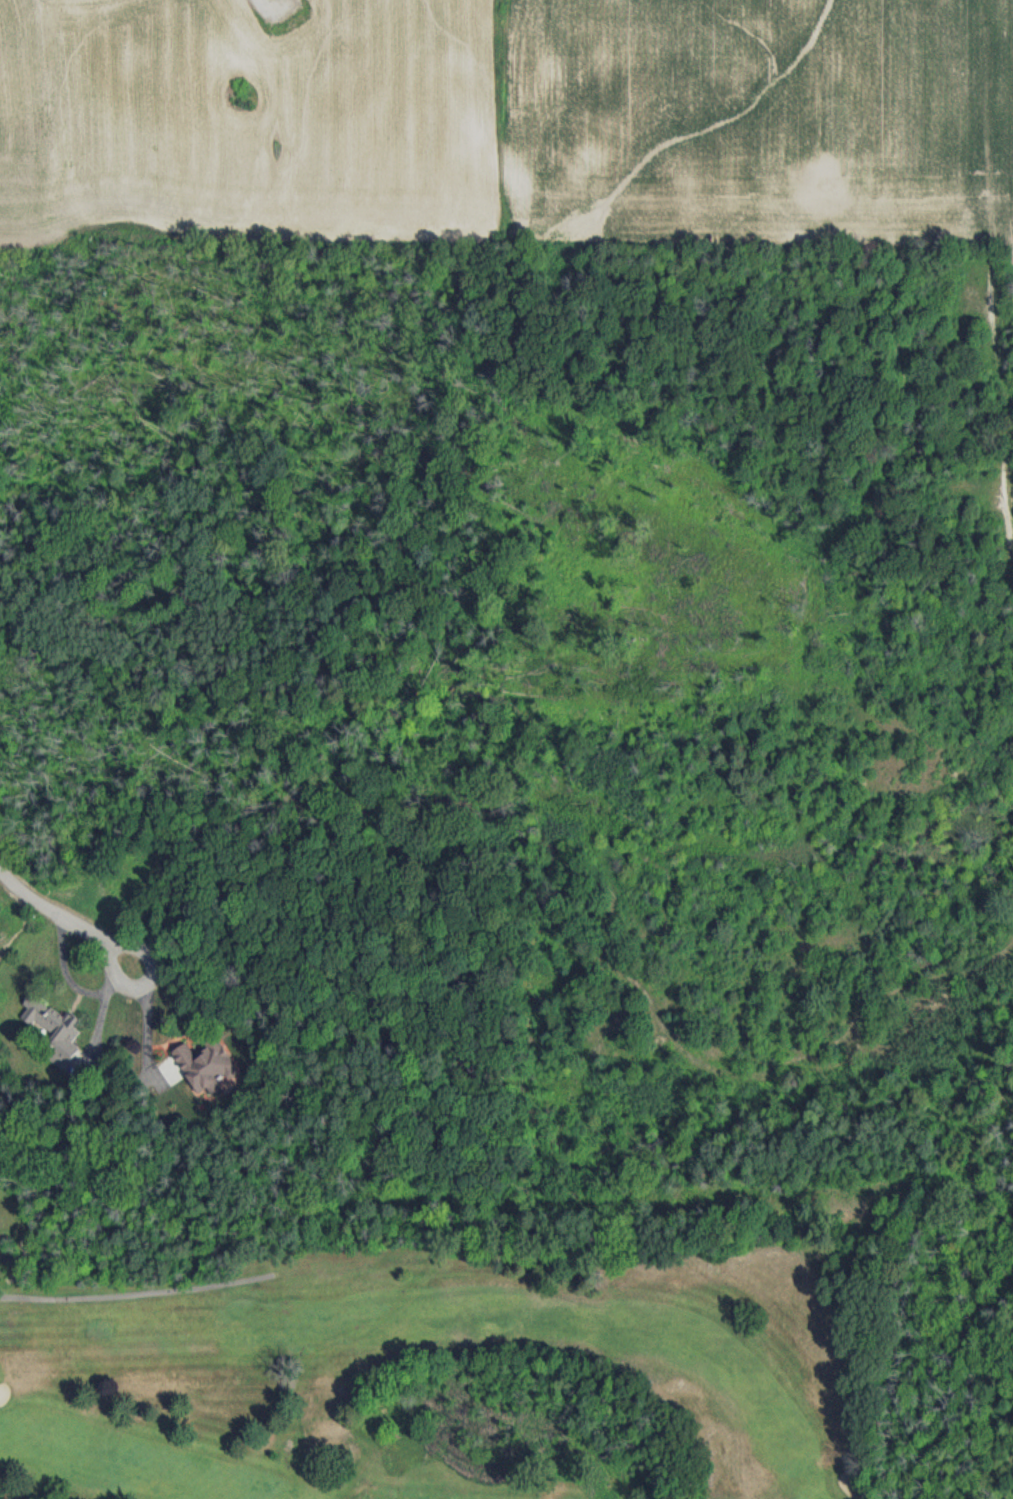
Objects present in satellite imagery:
crop: (834, 103)
road: (48, 908)
road: (147, 982)
building: (50, 1023)
building: (203, 1058)
park: (397, 1367)

